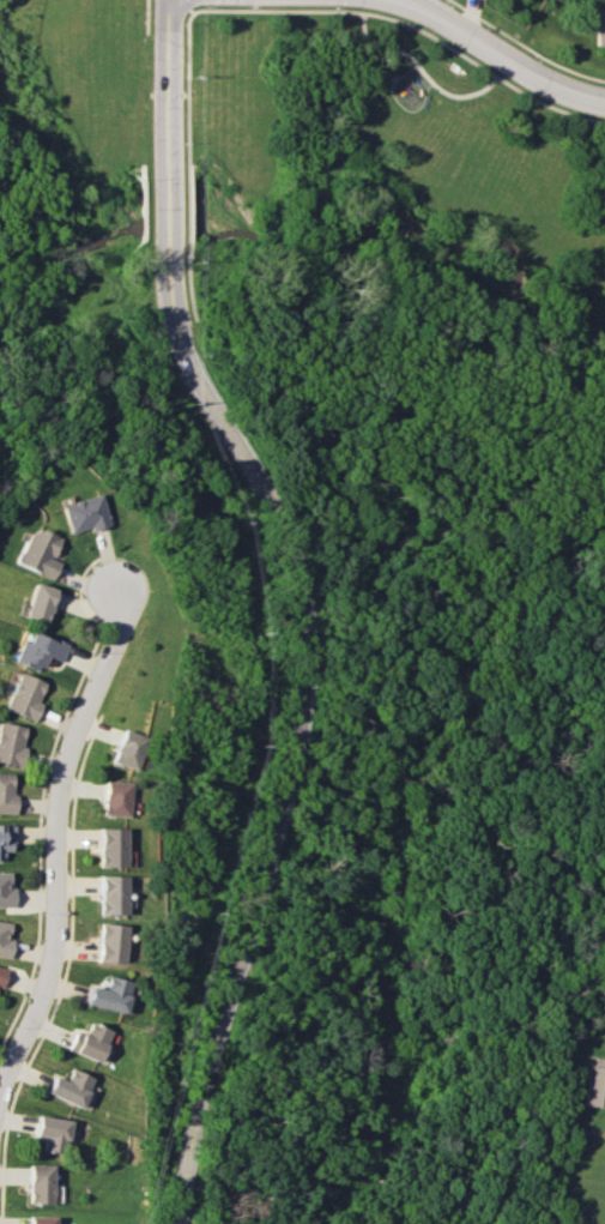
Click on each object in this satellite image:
road: (183, 6)
road: (141, 16)
road: (406, 25)
building: (599, 25)
road: (524, 46)
road: (502, 59)
road: (418, 70)
road: (162, 84)
road: (182, 89)
park: (256, 201)
road: (162, 215)
road: (182, 215)
river: (320, 229)
road: (184, 290)
building: (80, 514)
building: (37, 553)
road: (105, 557)
building: (36, 603)
building: (36, 651)
building: (22, 697)
road: (98, 731)
road: (292, 734)
building: (10, 744)
building: (126, 749)
road: (41, 786)
building: (5, 795)
building: (114, 798)
building: (5, 837)
road: (59, 844)
building: (110, 848)
building: (5, 891)
building: (109, 894)
building: (4, 940)
building: (108, 942)
road: (63, 971)
building: (1, 975)
building: (107, 995)
building: (87, 1042)
building: (592, 1085)
building: (67, 1089)
building: (50, 1133)
building: (37, 1184)
building: (38, 1220)

